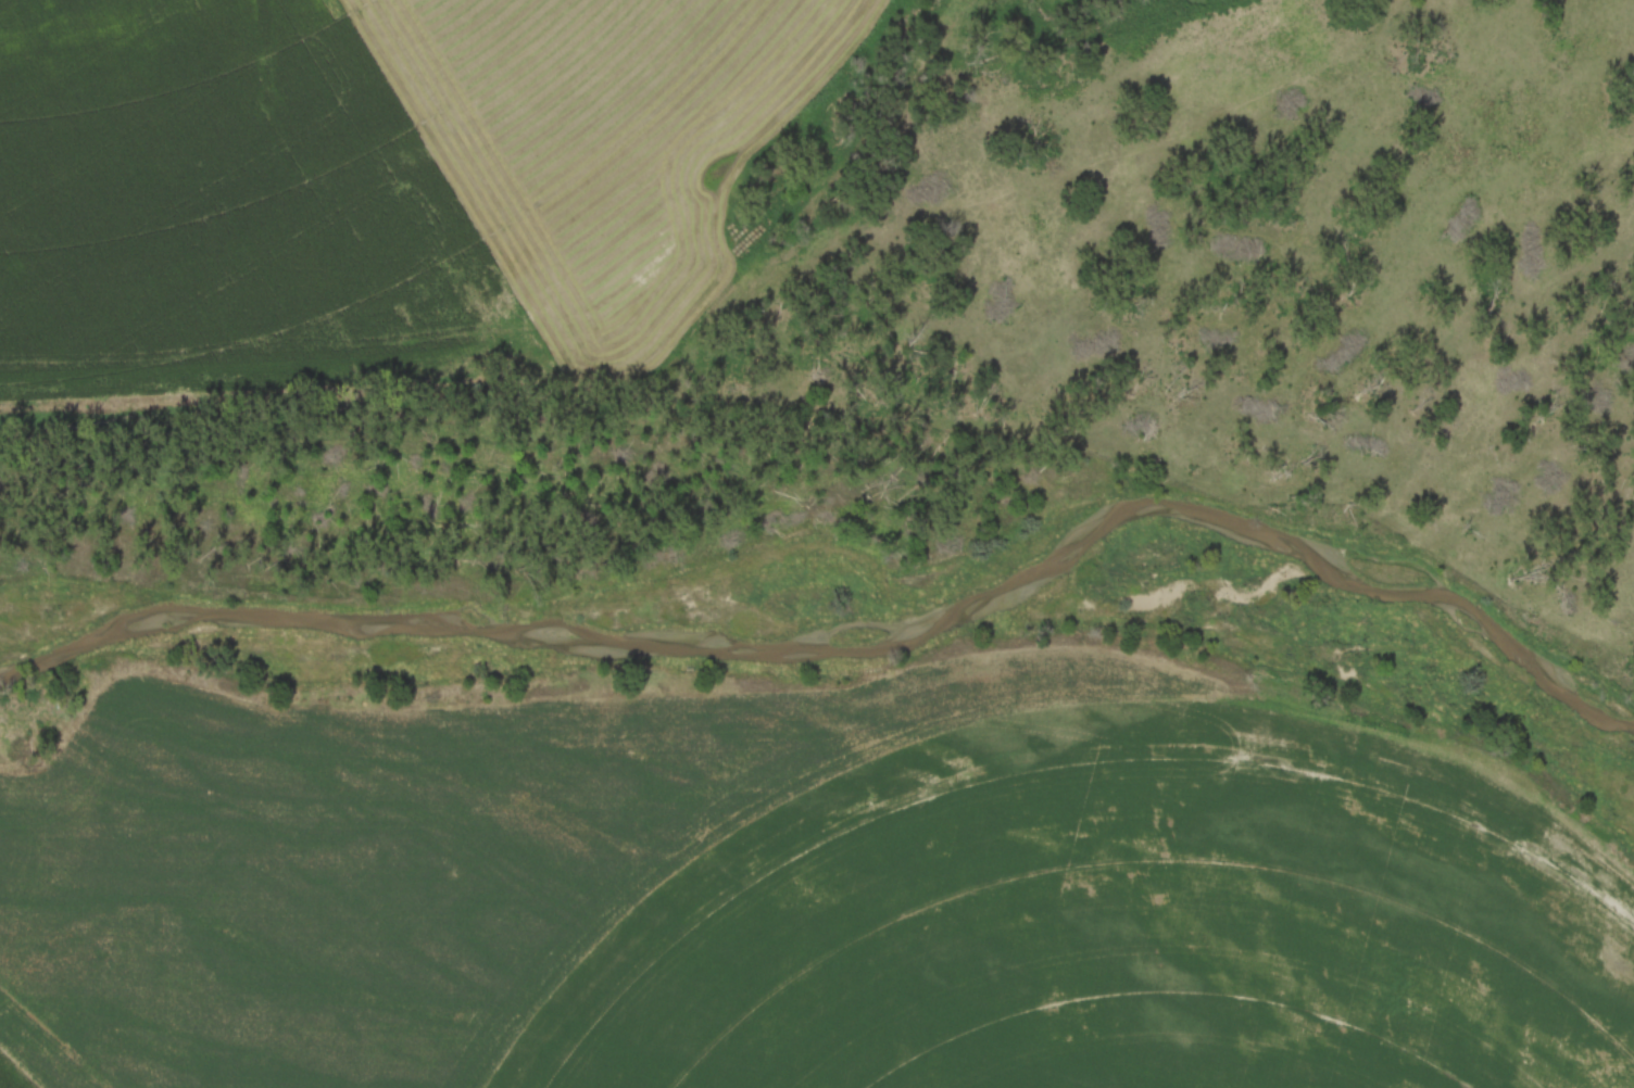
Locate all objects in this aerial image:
river: (858, 647)

